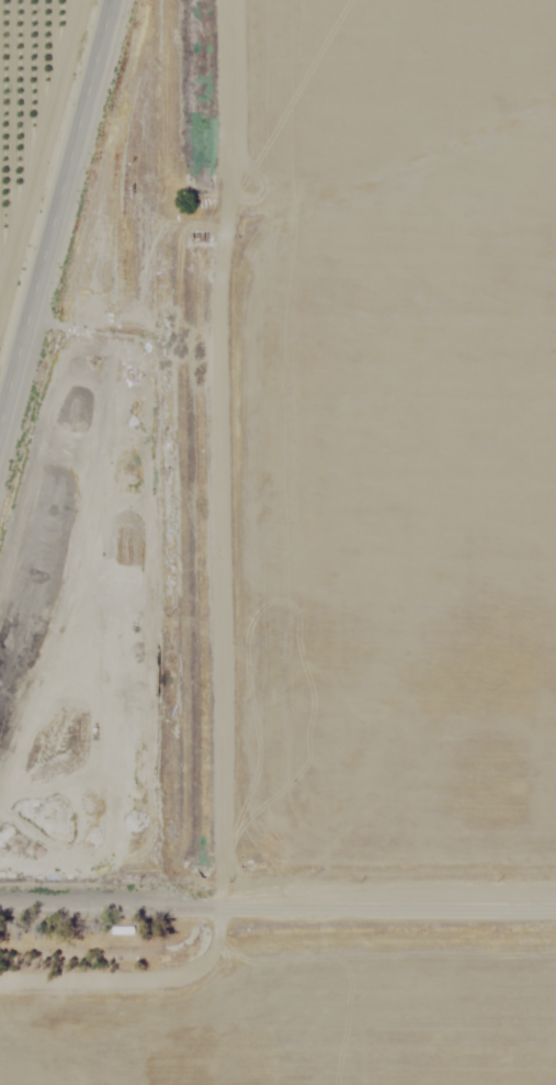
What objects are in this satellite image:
crop: (34, 133)
road: (52, 210)
road: (277, 899)

